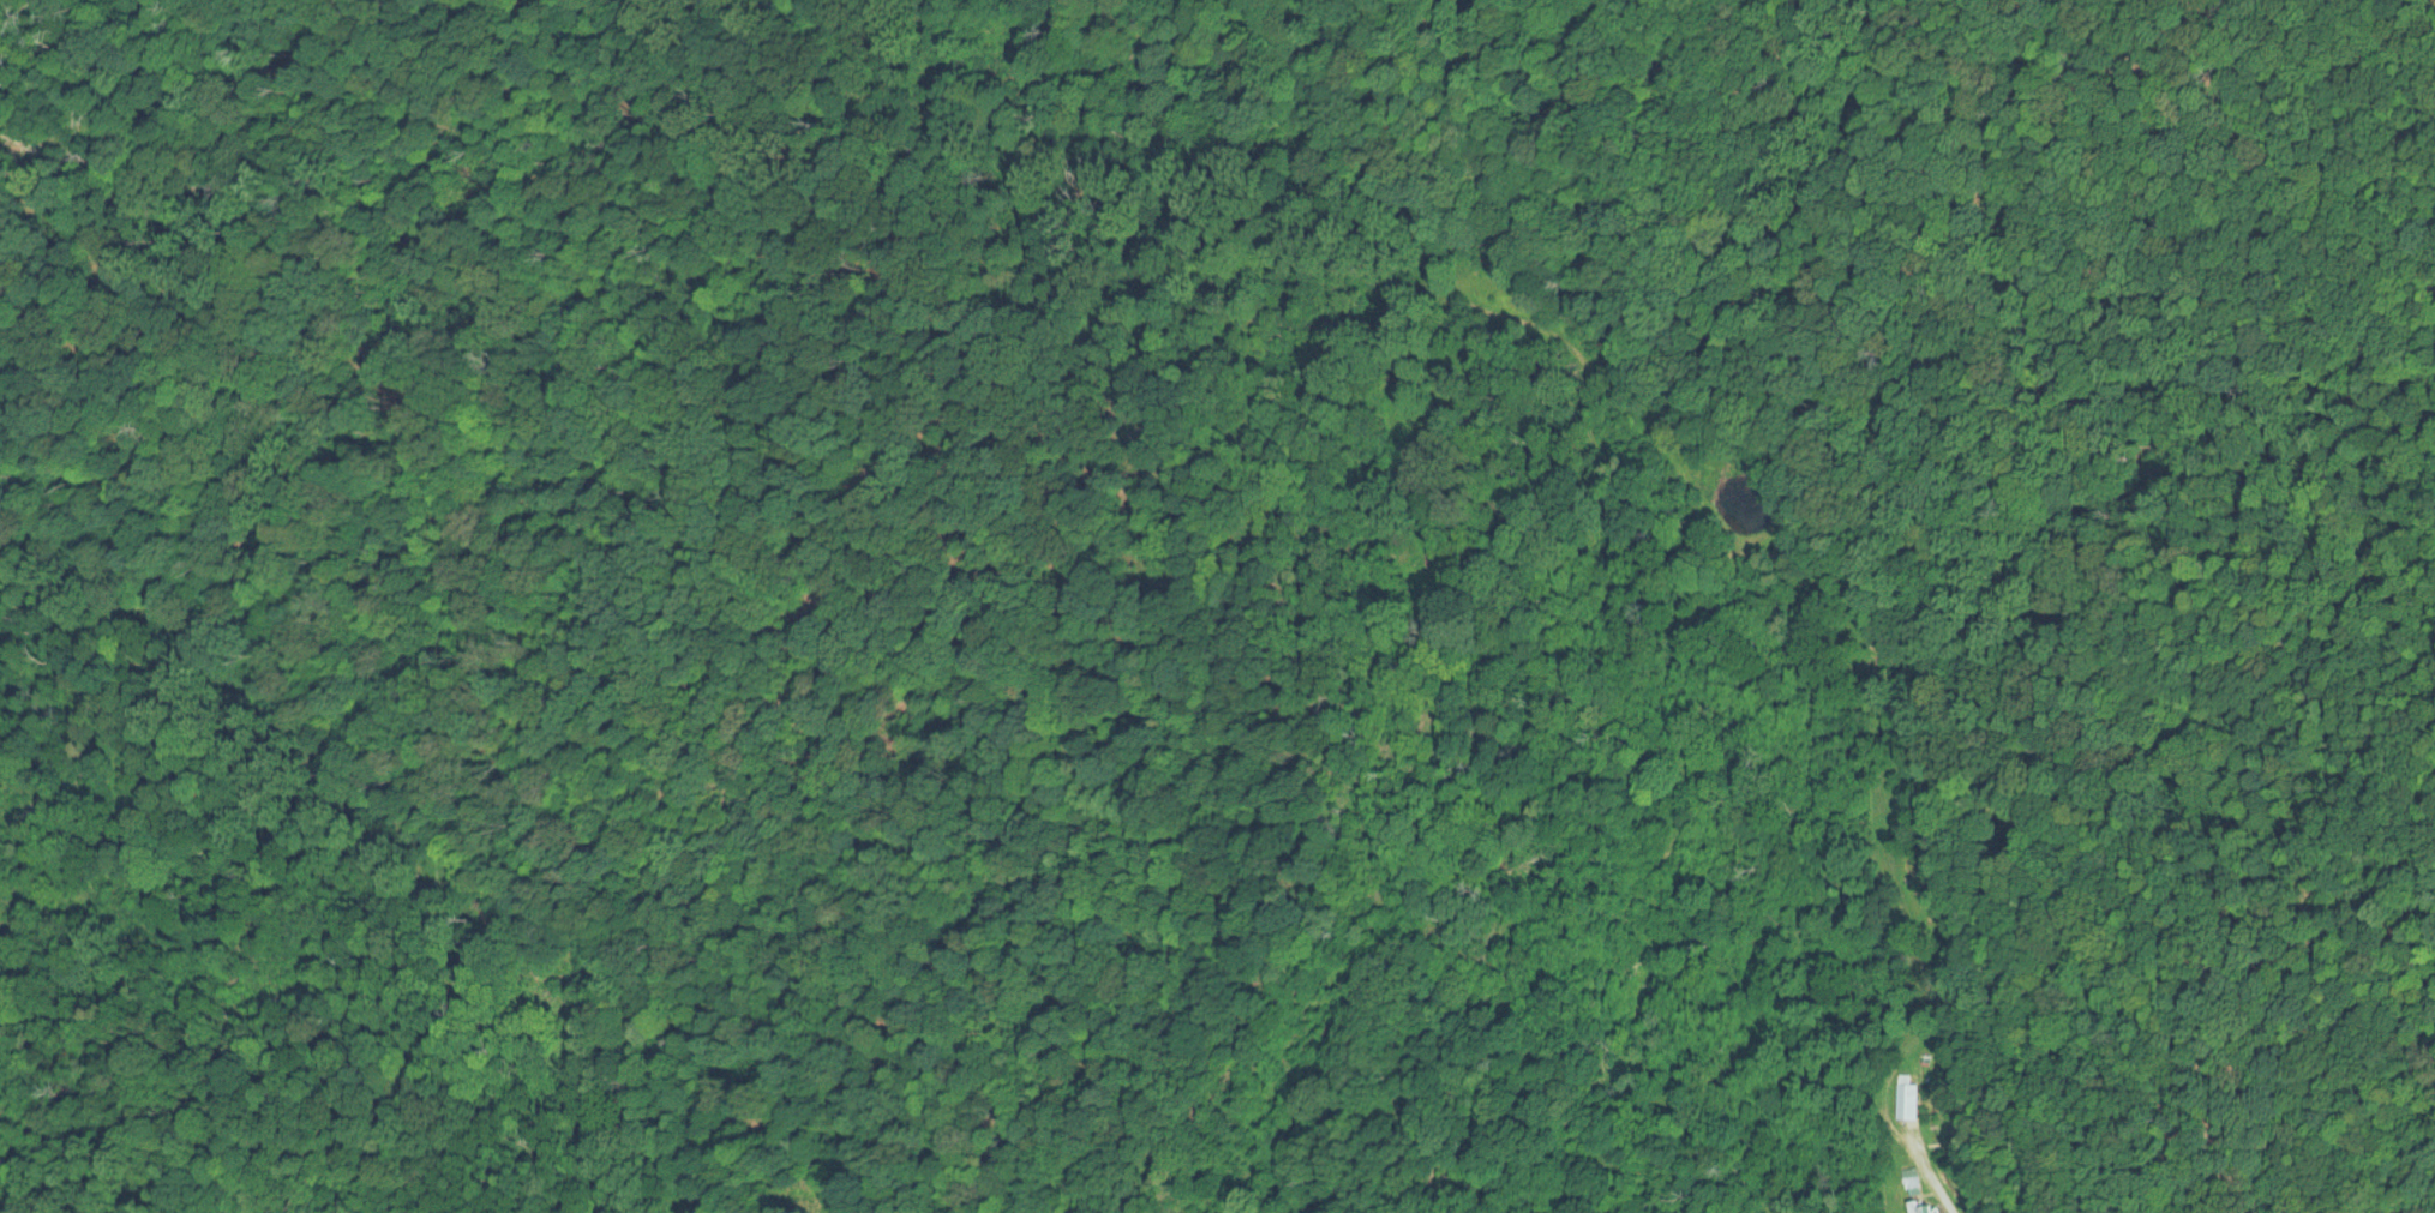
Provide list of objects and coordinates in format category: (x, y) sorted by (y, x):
road: (40, 77)
building: (1906, 1098)
building: (1909, 1181)
road: (1942, 1203)
building: (1921, 1208)

